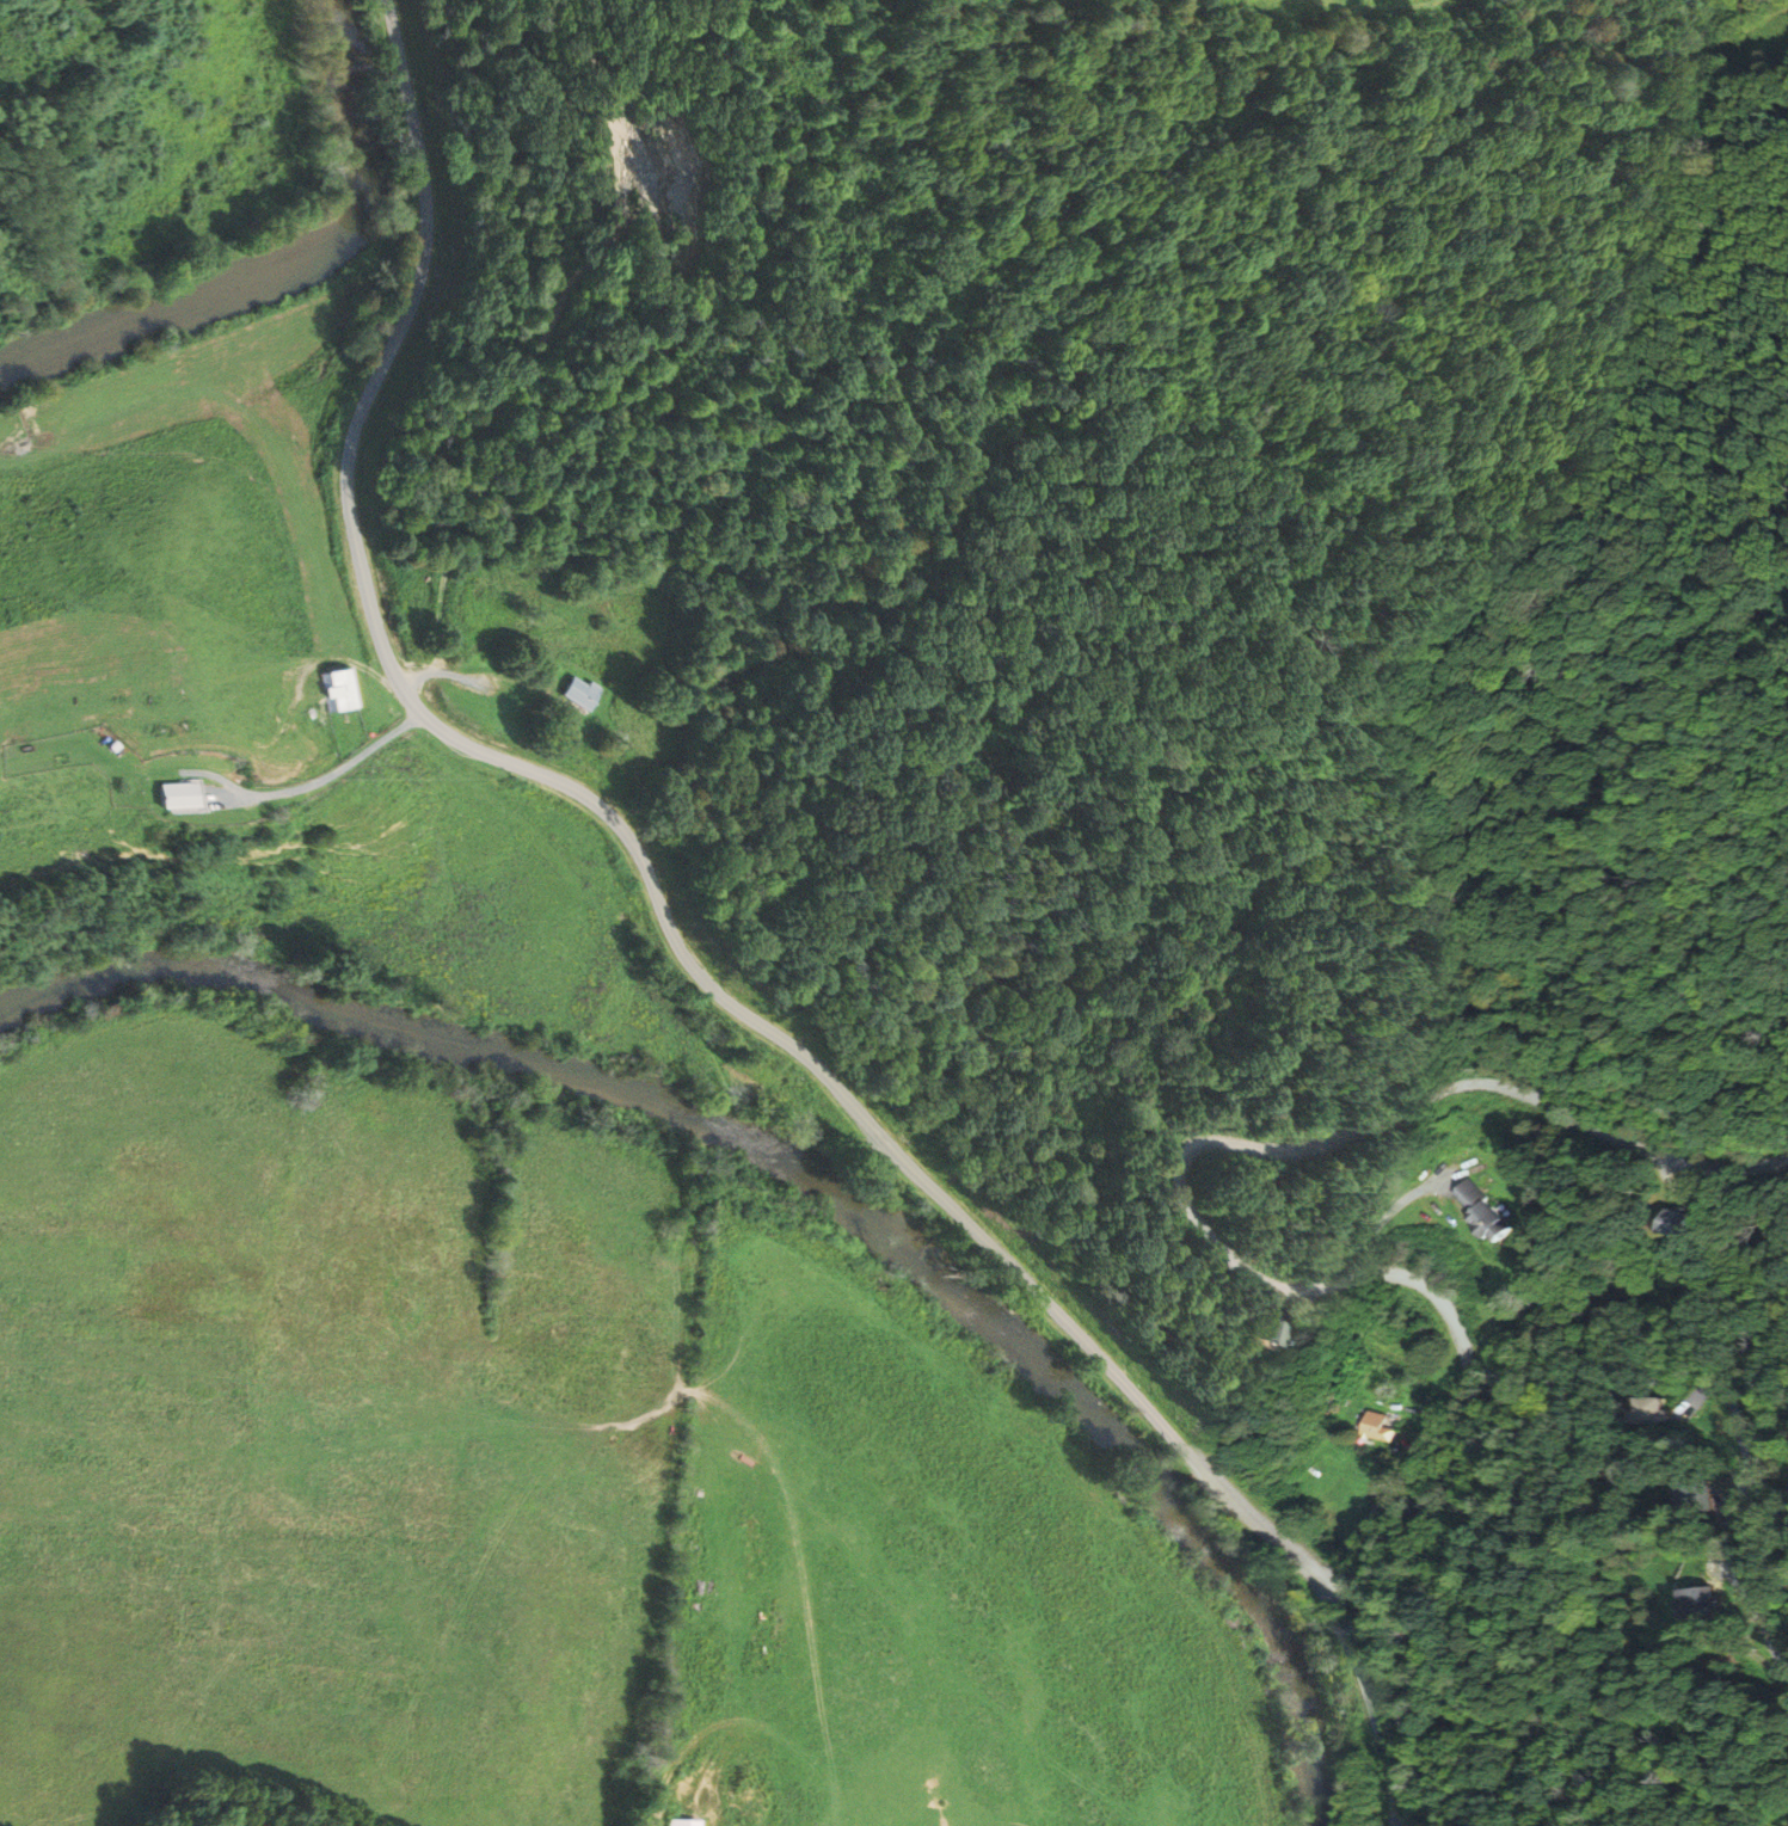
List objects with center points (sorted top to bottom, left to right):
river: (269, 275)
road: (528, 361)
road: (448, 674)
building: (336, 691)
building: (580, 693)
road: (337, 770)
building: (180, 797)
road: (694, 967)
river: (811, 1175)
road: (1179, 1185)
building: (1489, 1213)
building: (1666, 1223)
building: (1247, 1333)
building: (1381, 1428)
road: (1755, 1576)
building: (1700, 1604)
building: (686, 1822)

